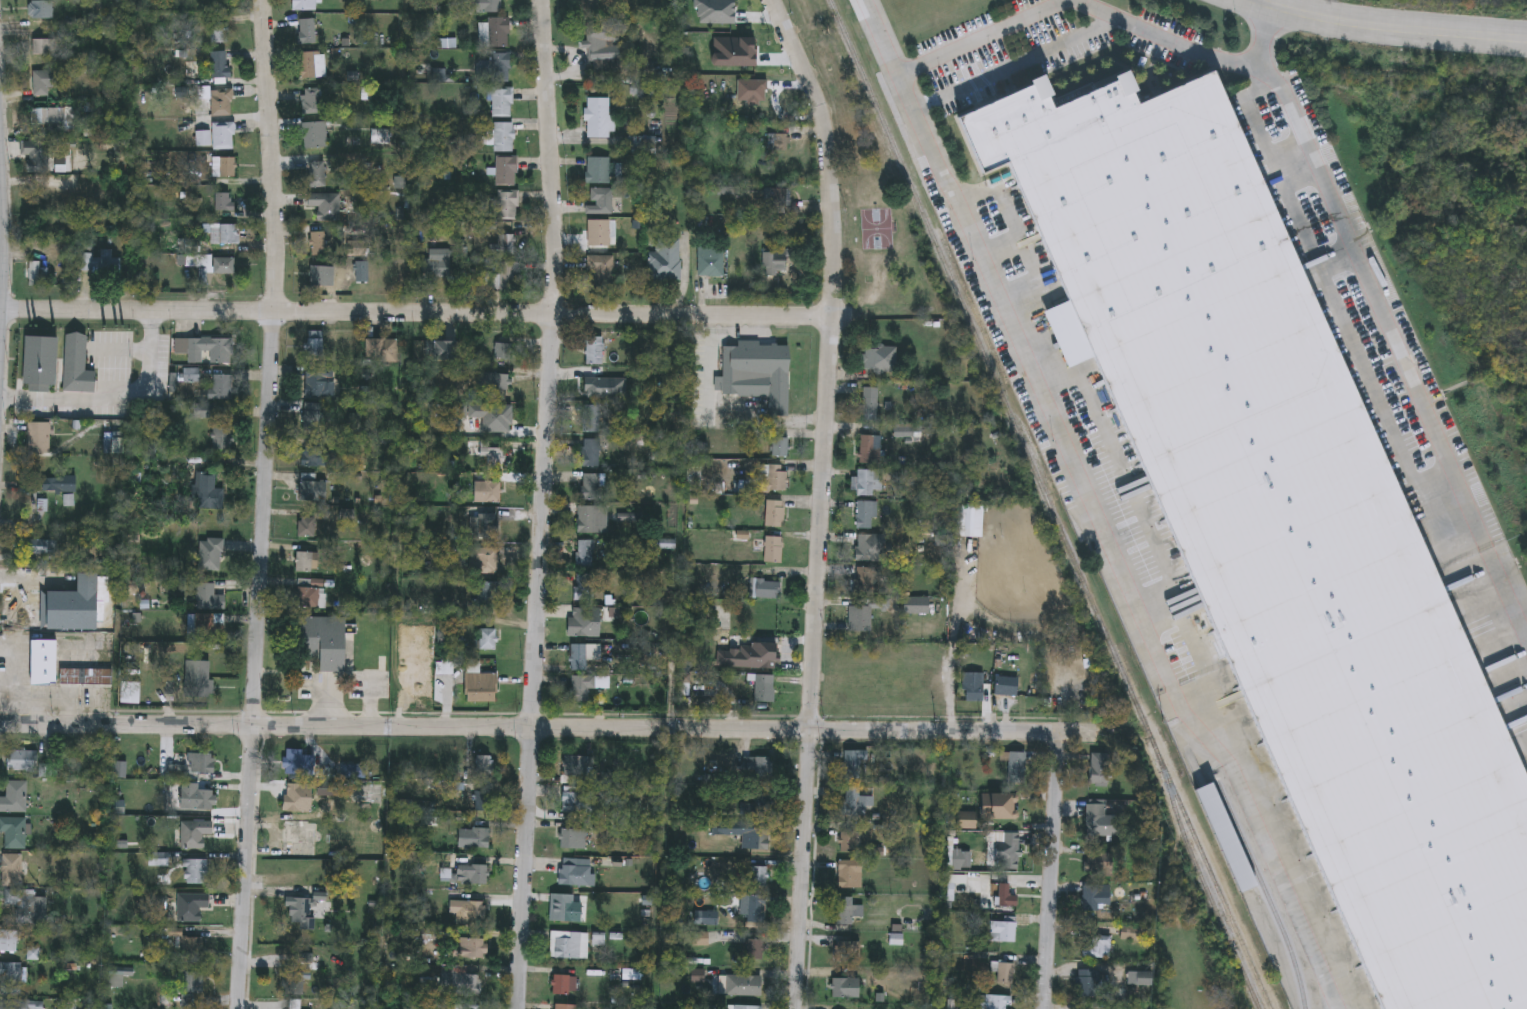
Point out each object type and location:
building: (307, 6)
building: (489, 6)
building: (43, 10)
road: (1384, 31)
building: (307, 33)
building: (221, 34)
building: (495, 34)
road: (1266, 34)
road: (880, 37)
road: (981, 37)
road: (1165, 39)
building: (47, 48)
building: (604, 49)
road: (1015, 65)
building: (313, 67)
building: (501, 68)
building: (221, 69)
building: (46, 82)
building: (756, 88)
building: (313, 102)
building: (222, 104)
building: (502, 104)
building: (54, 118)
building: (599, 119)
building: (316, 136)
building: (218, 137)
building: (381, 138)
building: (504, 138)
building: (37, 157)
building: (225, 168)
building: (602, 171)
building: (507, 172)
building: (317, 176)
building: (777, 198)
building: (600, 202)
building: (225, 203)
road: (1333, 205)
building: (507, 206)
building: (326, 207)
building: (599, 234)
building: (225, 235)
building: (319, 245)
building: (507, 246)
building: (666, 260)
building: (712, 262)
building: (776, 264)
building: (101, 265)
building: (438, 265)
building: (223, 266)
building: (601, 274)
building: (36, 275)
building: (320, 277)
building: (508, 278)
road: (990, 282)
road: (416, 314)
building: (315, 345)
building: (218, 351)
building: (383, 352)
building: (502, 352)
building: (596, 352)
building: (442, 353)
building: (880, 360)
building: (46, 363)
building: (78, 367)
building: (759, 375)
building: (494, 382)
building: (320, 387)
building: (223, 389)
road: (113, 396)
building: (871, 405)
building: (206, 412)
building: (490, 418)
building: (314, 419)
building: (592, 420)
building: (39, 439)
building: (223, 440)
building: (781, 448)
building: (872, 451)
building: (592, 455)
building: (494, 458)
building: (321, 459)
building: (775, 479)
building: (867, 484)
road: (1467, 485)
building: (60, 486)
building: (592, 487)
building: (313, 490)
building: (209, 493)
building: (488, 493)
road: (821, 499)
road: (265, 504)
road: (543, 504)
railway: (1051, 504)
building: (775, 515)
building: (867, 517)
building: (591, 521)
building: (1285, 524)
building: (486, 527)
building: (308, 528)
building: (43, 548)
building: (871, 549)
building: (774, 550)
building: (586, 555)
building: (212, 556)
building: (486, 560)
building: (306, 563)
building: (869, 579)
building: (585, 589)
building: (766, 590)
building: (312, 595)
building: (489, 596)
building: (210, 598)
building: (917, 606)
building: (77, 607)
building: (862, 620)
building: (587, 624)
building: (211, 628)
building: (488, 641)
building: (327, 643)
building: (754, 658)
building: (582, 659)
building: (45, 663)
building: (87, 678)
building: (199, 679)
building: (480, 686)
building: (581, 690)
building: (765, 690)
building: (1003, 690)
building: (131, 693)
building: (973, 693)
road: (535, 727)
road: (1216, 747)
building: (23, 761)
building: (298, 763)
building: (201, 764)
building: (856, 766)
building: (485, 767)
building: (1099, 767)
building: (759, 768)
building: (575, 769)
building: (1015, 769)
building: (15, 798)
building: (198, 799)
building: (296, 802)
building: (857, 802)
building: (484, 803)
building: (576, 803)
building: (759, 807)
building: (1096, 820)
building: (14, 833)
building: (195, 834)
building: (753, 838)
building: (479, 840)
building: (573, 841)
building: (849, 843)
building: (1004, 852)
building: (1100, 865)
building: (12, 871)
road: (1063, 871)
building: (197, 873)
building: (578, 873)
building: (851, 875)
building: (759, 878)
railway: (1204, 882)
railway: (1266, 892)
building: (1095, 899)
building: (24, 906)
building: (192, 908)
building: (755, 910)
building: (470, 911)
building: (847, 912)
building: (299, 913)
building: (568, 913)
building: (1002, 933)
building: (9, 942)
building: (570, 947)
building: (193, 948)
building: (1097, 949)
building: (756, 951)
building: (472, 952)
building: (849, 952)
building: (1005, 974)
building: (11, 980)
building: (116, 980)
building: (1138, 980)
building: (193, 984)
building: (296, 984)
building: (462, 986)
building: (745, 987)
building: (1087, 988)
building: (846, 989)
building: (992, 1003)
building: (20, 1005)
building: (296, 1006)
building: (566, 1008)

